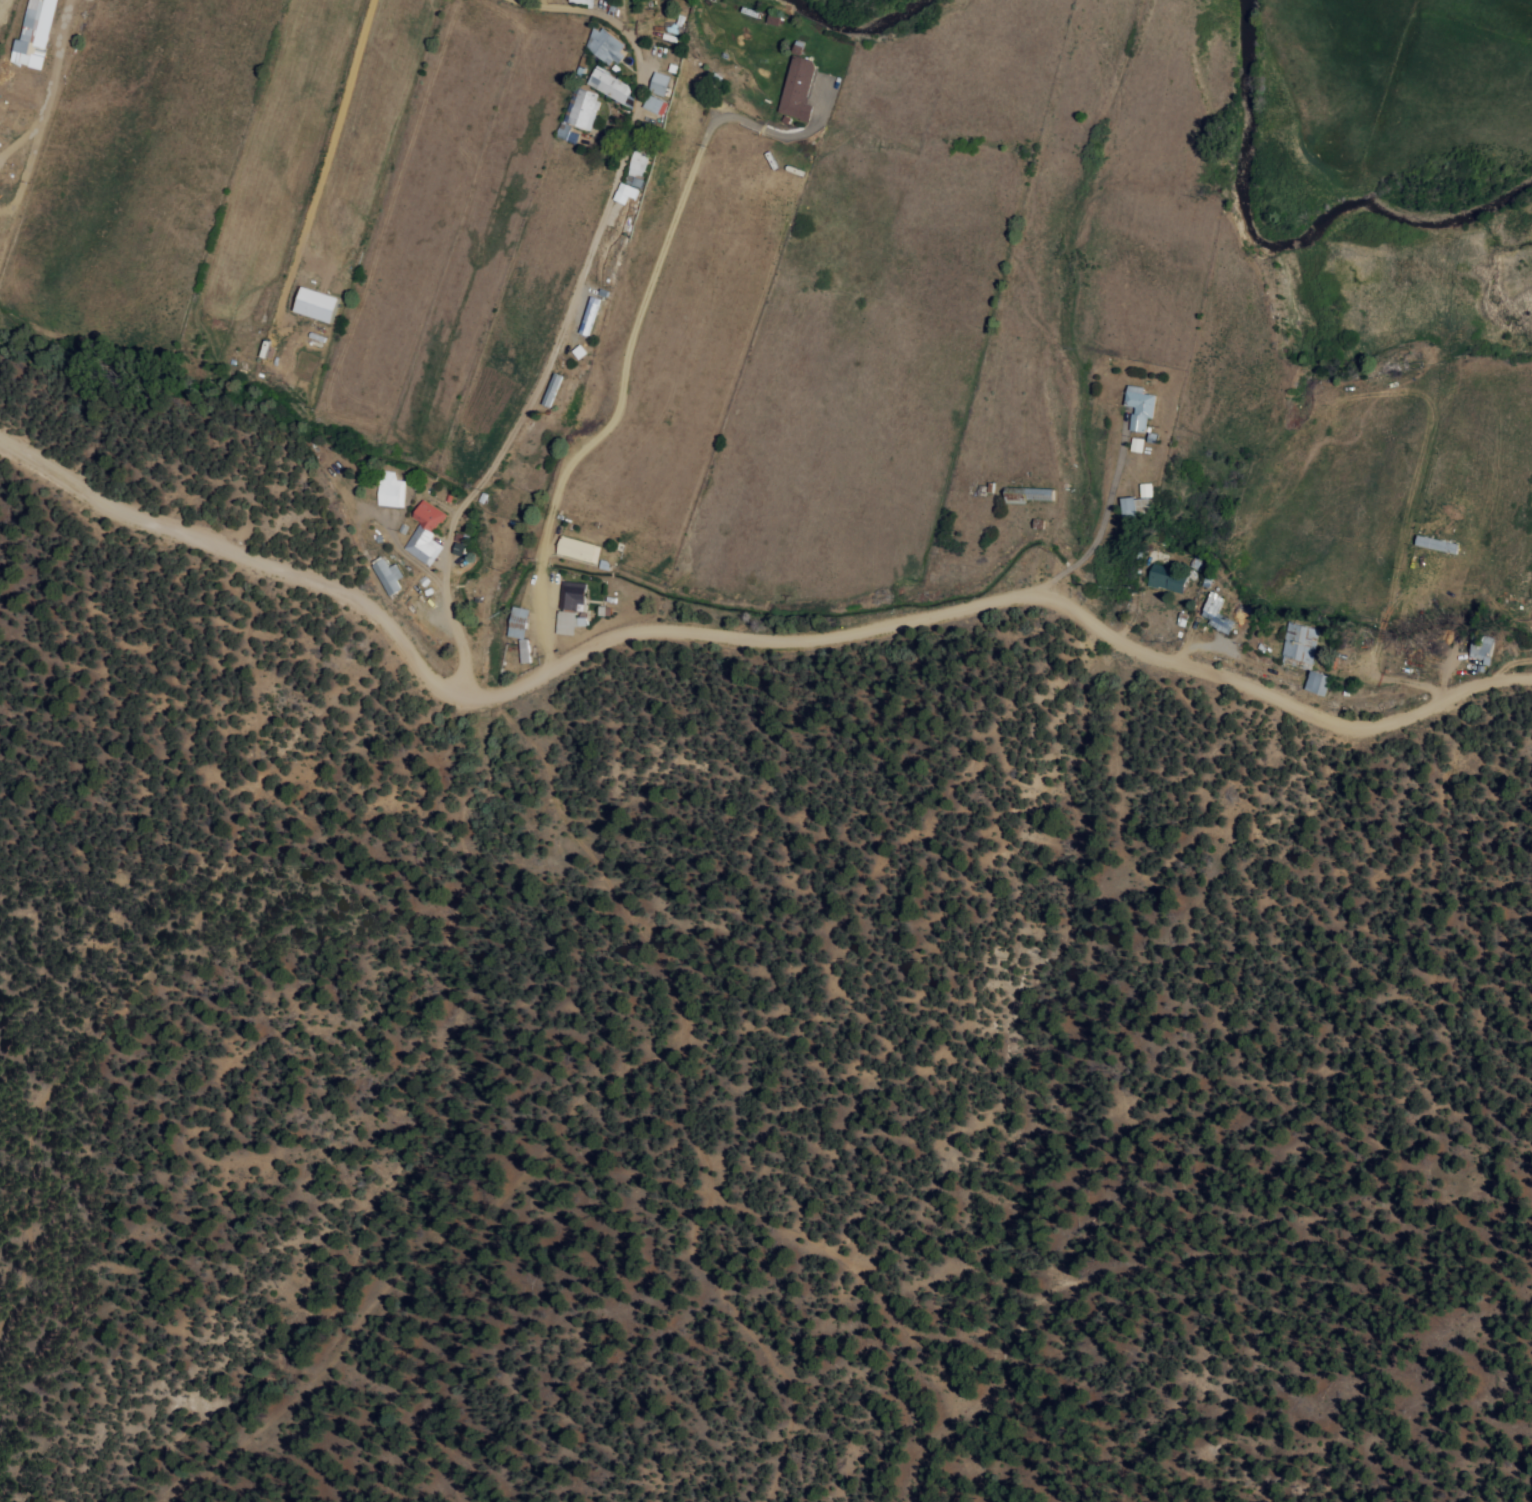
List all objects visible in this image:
building: (584, 1)
river: (857, 20)
building: (35, 34)
building: (607, 45)
building: (661, 83)
building: (613, 86)
building: (798, 88)
building: (655, 104)
building: (583, 107)
building: (570, 132)
building: (639, 165)
building: (626, 192)
river: (1285, 240)
building: (319, 304)
road: (640, 311)
road: (566, 312)
building: (591, 315)
building: (554, 389)
building: (1141, 406)
building: (1138, 443)
building: (391, 489)
building: (1147, 489)
building: (1129, 505)
road: (1522, 516)
building: (425, 533)
building: (462, 542)
building: (1434, 544)
building: (581, 548)
building: (388, 575)
building: (1169, 579)
building: (573, 594)
building: (1219, 613)
building: (519, 621)
building: (570, 621)
road: (741, 637)
building: (1299, 642)
building: (1483, 647)
building: (524, 650)
building: (1319, 681)

